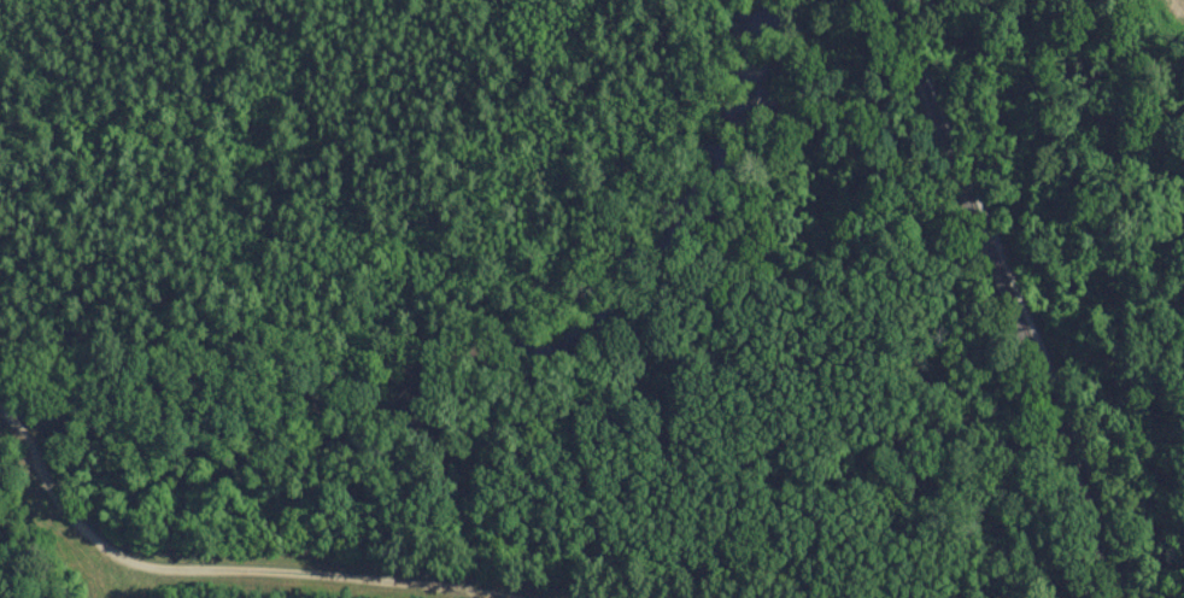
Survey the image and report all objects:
railway: (985, 228)
road: (201, 574)

